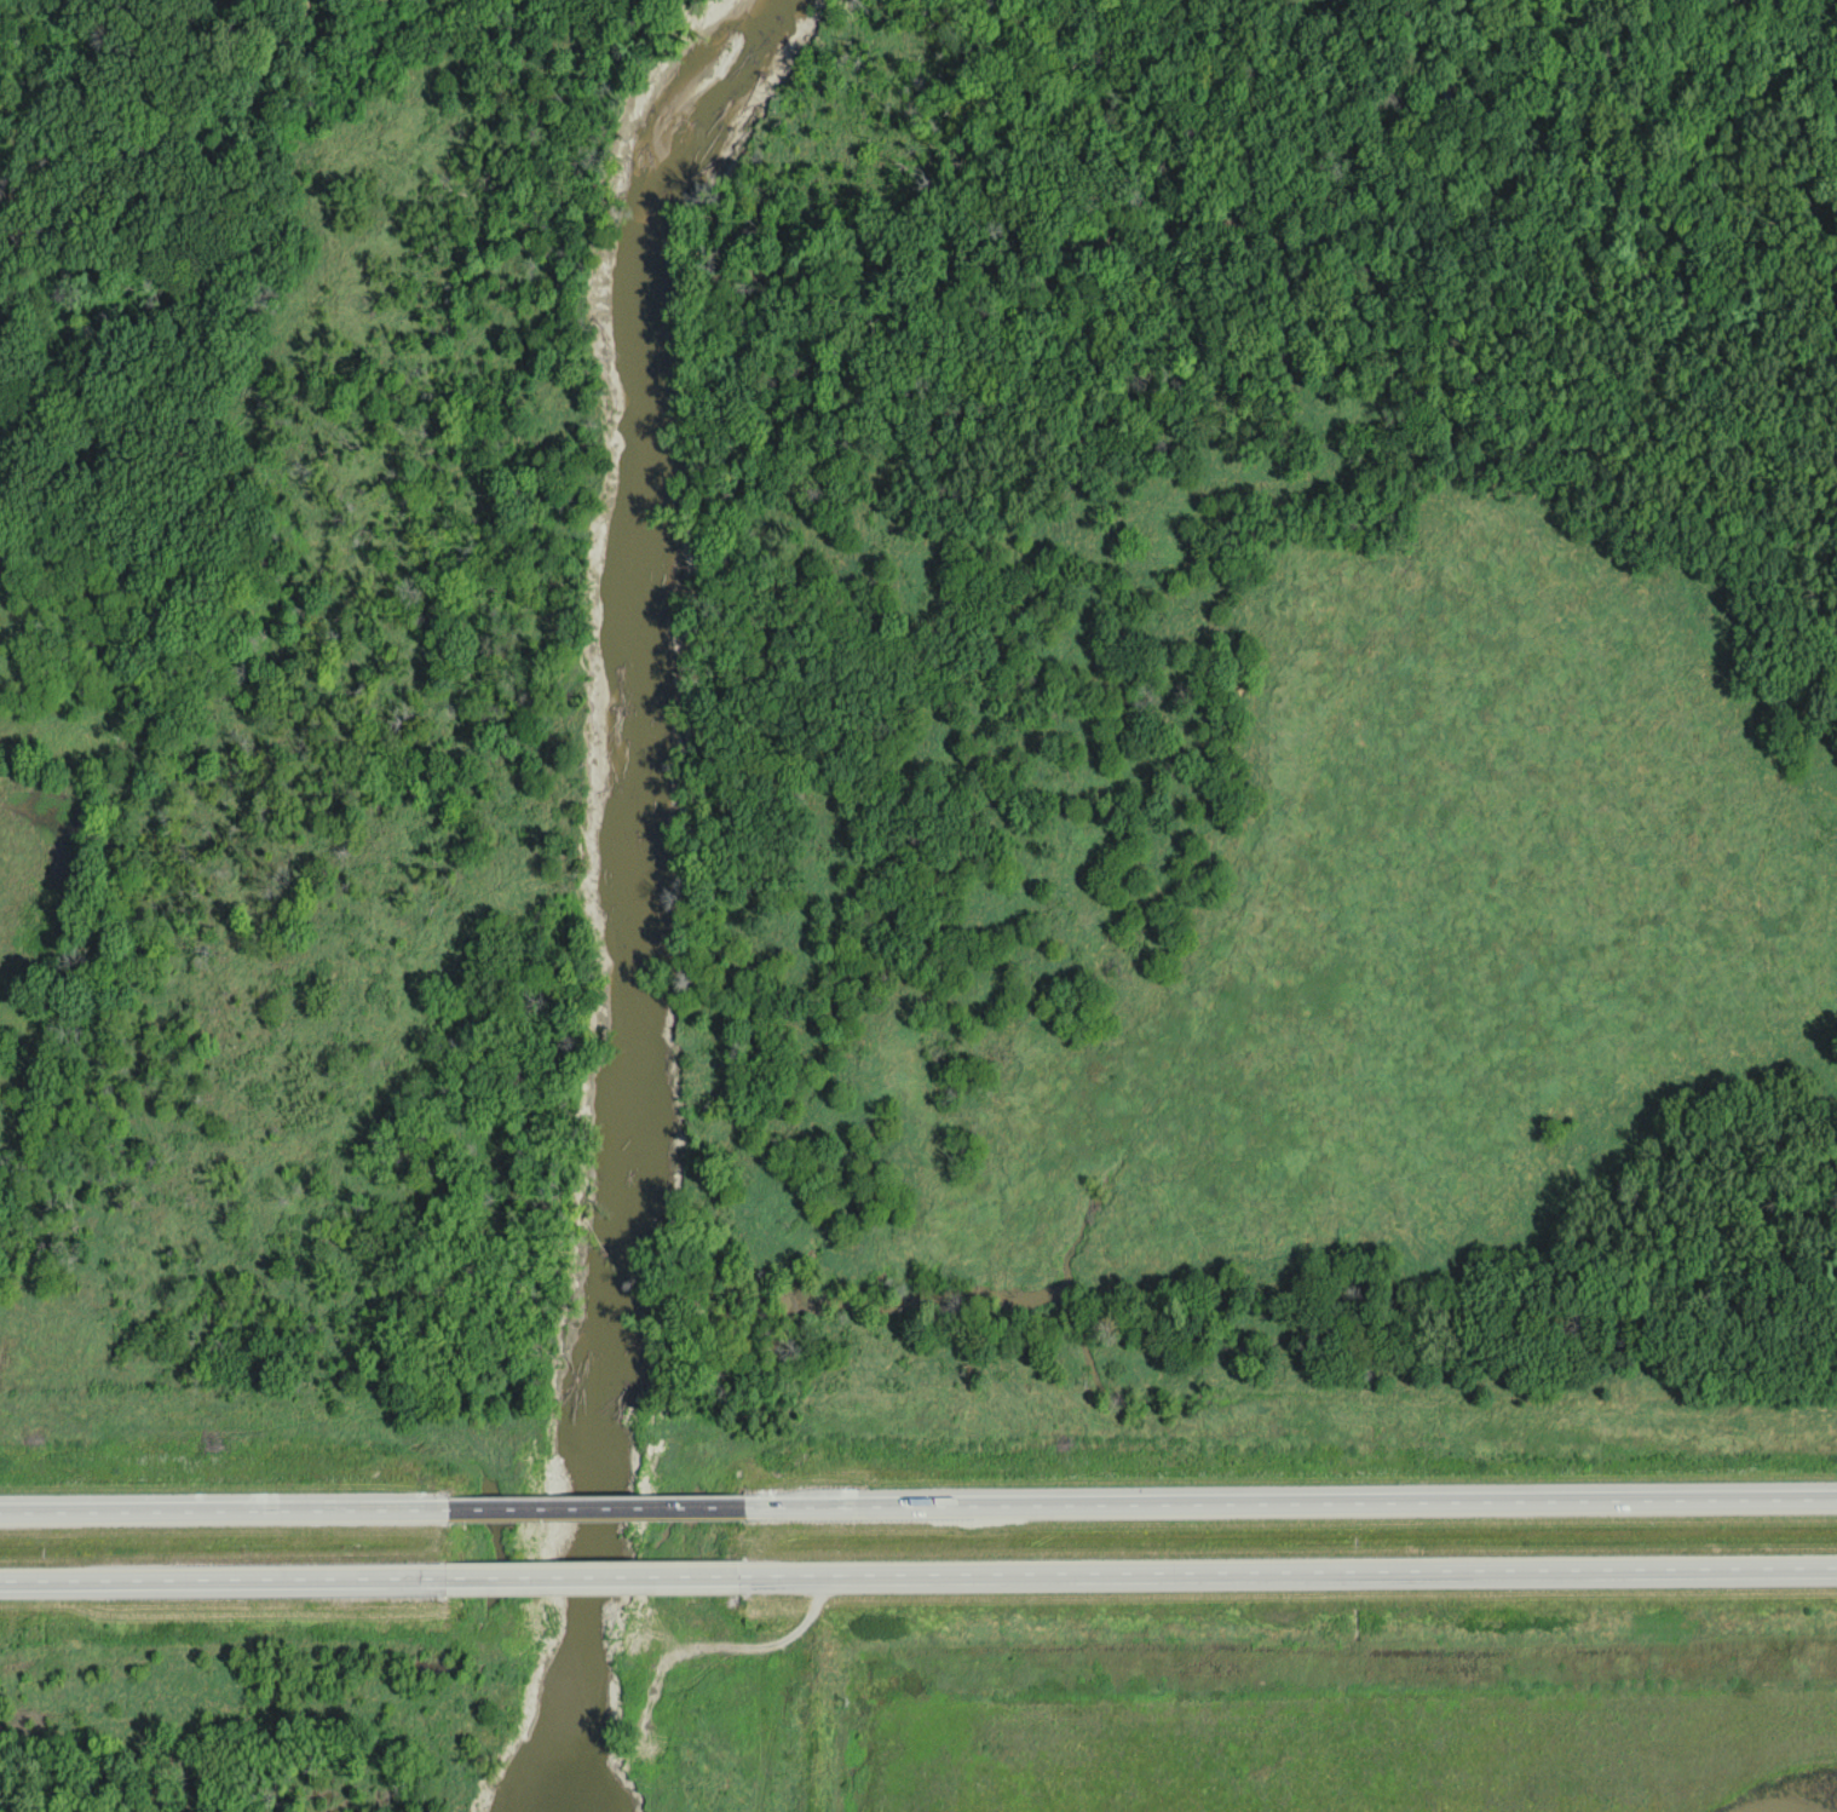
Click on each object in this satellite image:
road: (1290, 1506)
road: (221, 1511)
road: (593, 1512)
building: (477, 1567)
road: (1282, 1575)
building: (684, 1576)
road: (589, 1578)
road: (226, 1582)

